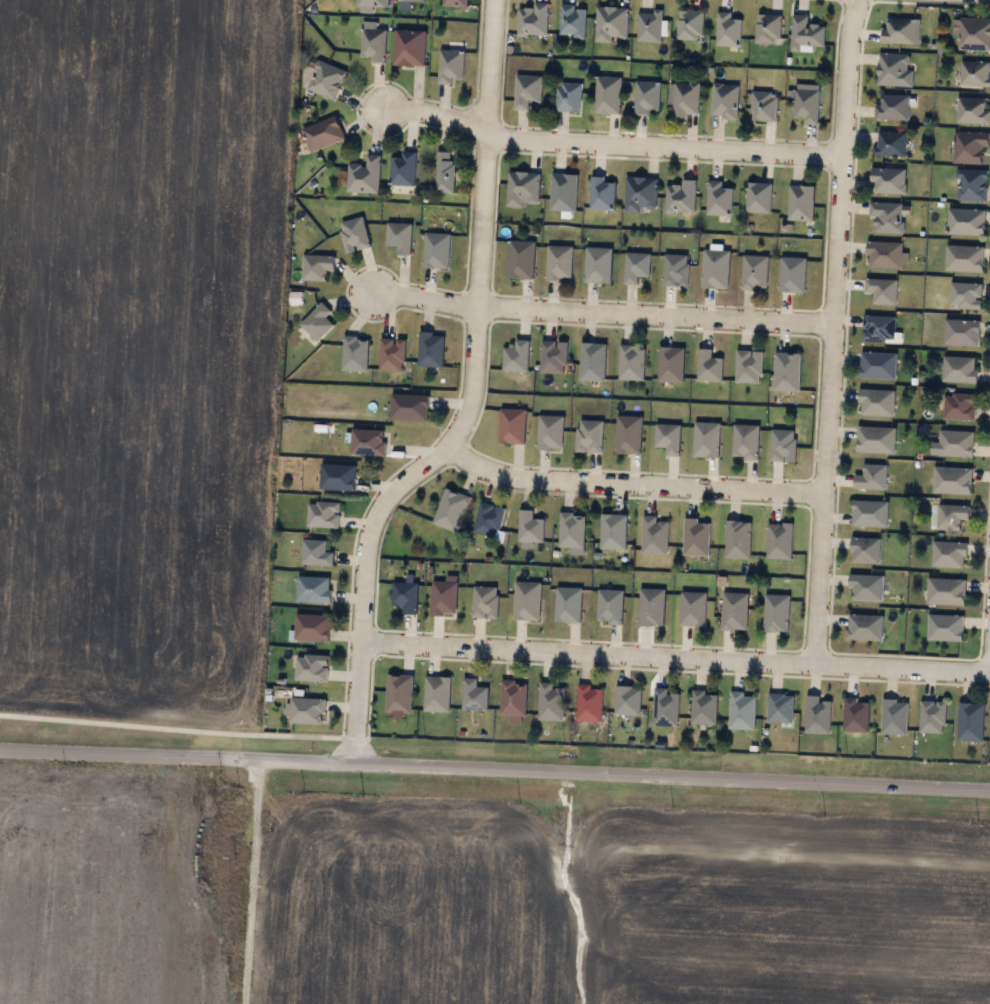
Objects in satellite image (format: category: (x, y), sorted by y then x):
building: (455, 3)
building: (369, 4)
building: (406, 4)
building: (532, 19)
building: (572, 20)
building: (611, 23)
building: (649, 25)
building: (690, 25)
building: (767, 28)
building: (728, 29)
building: (900, 30)
building: (805, 32)
building: (975, 33)
building: (372, 44)
building: (409, 47)
building: (450, 65)
building: (894, 69)
building: (974, 73)
building: (326, 79)
building: (527, 90)
building: (607, 94)
building: (568, 96)
building: (646, 96)
building: (685, 98)
building: (724, 100)
building: (806, 101)
building: (764, 106)
building: (892, 107)
building: (972, 110)
building: (322, 133)
road: (610, 143)
building: (890, 143)
building: (969, 146)
building: (402, 169)
building: (444, 171)
building: (364, 175)
building: (889, 180)
building: (971, 184)
building: (522, 188)
building: (563, 192)
building: (601, 192)
building: (641, 194)
building: (680, 197)
building: (758, 197)
building: (718, 198)
building: (800, 202)
building: (886, 217)
building: (966, 221)
building: (354, 234)
building: (399, 236)
building: (436, 250)
building: (884, 254)
building: (964, 258)
building: (521, 260)
building: (559, 263)
building: (598, 265)
building: (316, 267)
building: (636, 267)
building: (715, 268)
building: (676, 270)
building: (754, 273)
building: (792, 274)
building: (882, 290)
building: (966, 296)
road: (600, 315)
building: (317, 322)
building: (878, 328)
road: (831, 330)
building: (962, 332)
building: (431, 350)
building: (355, 353)
building: (391, 354)
building: (516, 357)
building: (553, 357)
building: (592, 362)
building: (631, 362)
building: (670, 364)
building: (878, 365)
building: (708, 366)
building: (748, 366)
building: (959, 369)
building: (787, 372)
road: (469, 400)
building: (876, 402)
building: (959, 406)
building: (409, 407)
building: (512, 426)
building: (550, 432)
building: (628, 435)
building: (589, 436)
building: (668, 438)
building: (875, 439)
building: (706, 440)
building: (745, 441)
building: (368, 442)
building: (955, 444)
building: (783, 445)
building: (337, 477)
building: (871, 477)
building: (952, 480)
road: (631, 483)
building: (451, 510)
building: (869, 513)
building: (323, 515)
building: (952, 516)
building: (488, 520)
building: (529, 527)
building: (572, 529)
building: (613, 532)
building: (654, 536)
building: (696, 537)
building: (737, 540)
building: (779, 541)
building: (865, 550)
building: (315, 553)
building: (949, 554)
building: (866, 587)
building: (314, 590)
building: (945, 591)
building: (406, 596)
building: (444, 597)
building: (527, 601)
building: (485, 602)
building: (567, 605)
building: (610, 607)
building: (651, 607)
building: (693, 610)
building: (734, 611)
building: (776, 613)
building: (864, 627)
building: (311, 628)
building: (945, 628)
road: (673, 656)
building: (312, 668)
building: (398, 693)
building: (437, 694)
building: (474, 695)
building: (513, 699)
building: (627, 700)
building: (551, 702)
building: (588, 703)
building: (665, 707)
building: (704, 708)
building: (780, 708)
building: (307, 711)
building: (741, 711)
building: (817, 715)
building: (855, 715)
building: (894, 717)
building: (932, 717)
building: (970, 721)
road: (495, 768)
road: (258, 881)

